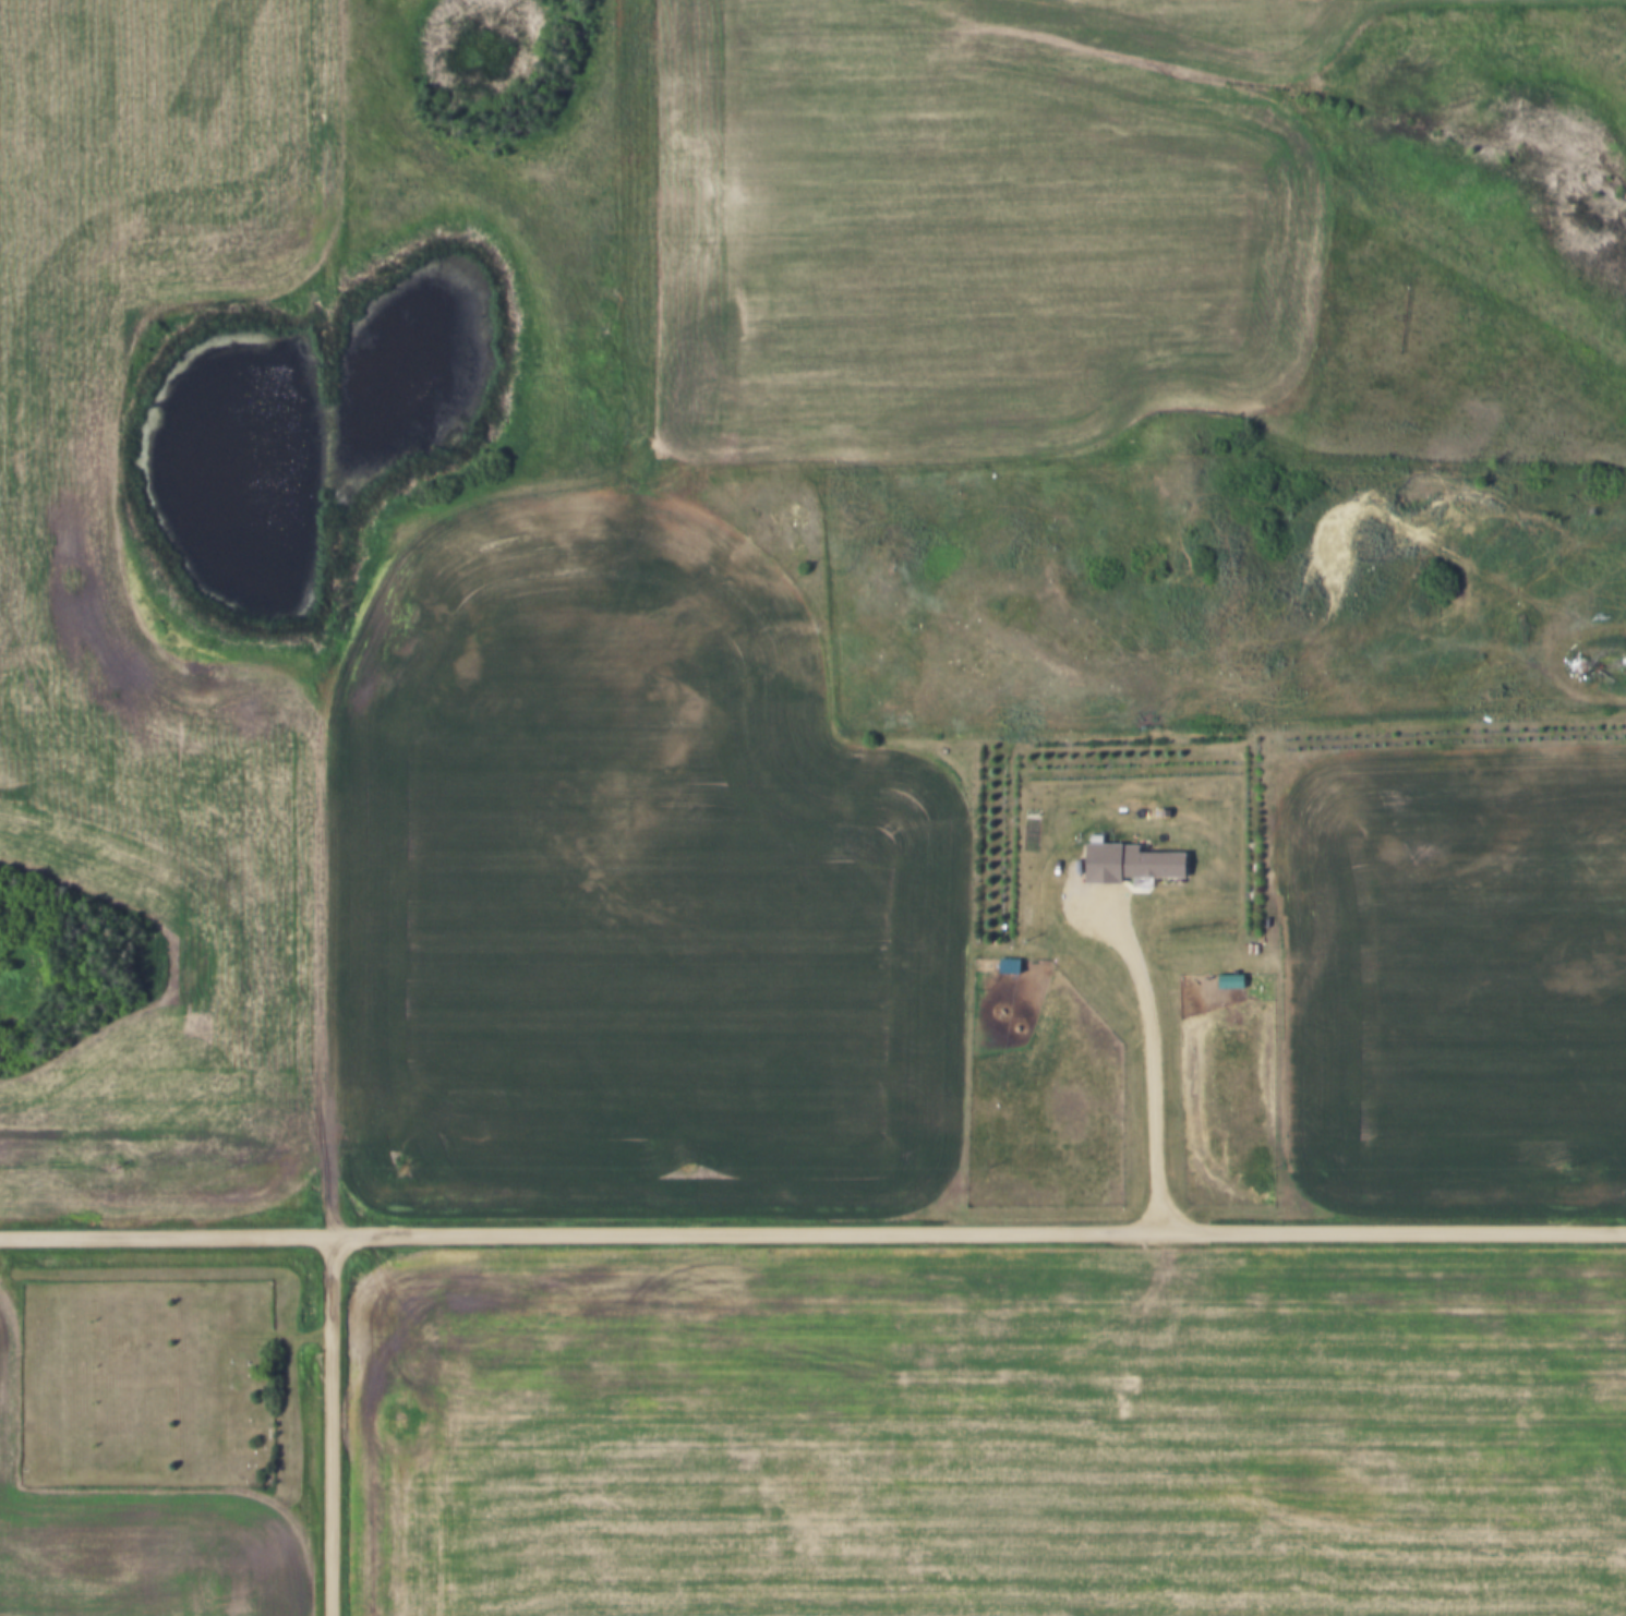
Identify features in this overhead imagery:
road: (325, 615)
building: (1135, 863)
road: (812, 1229)
road: (333, 1423)

